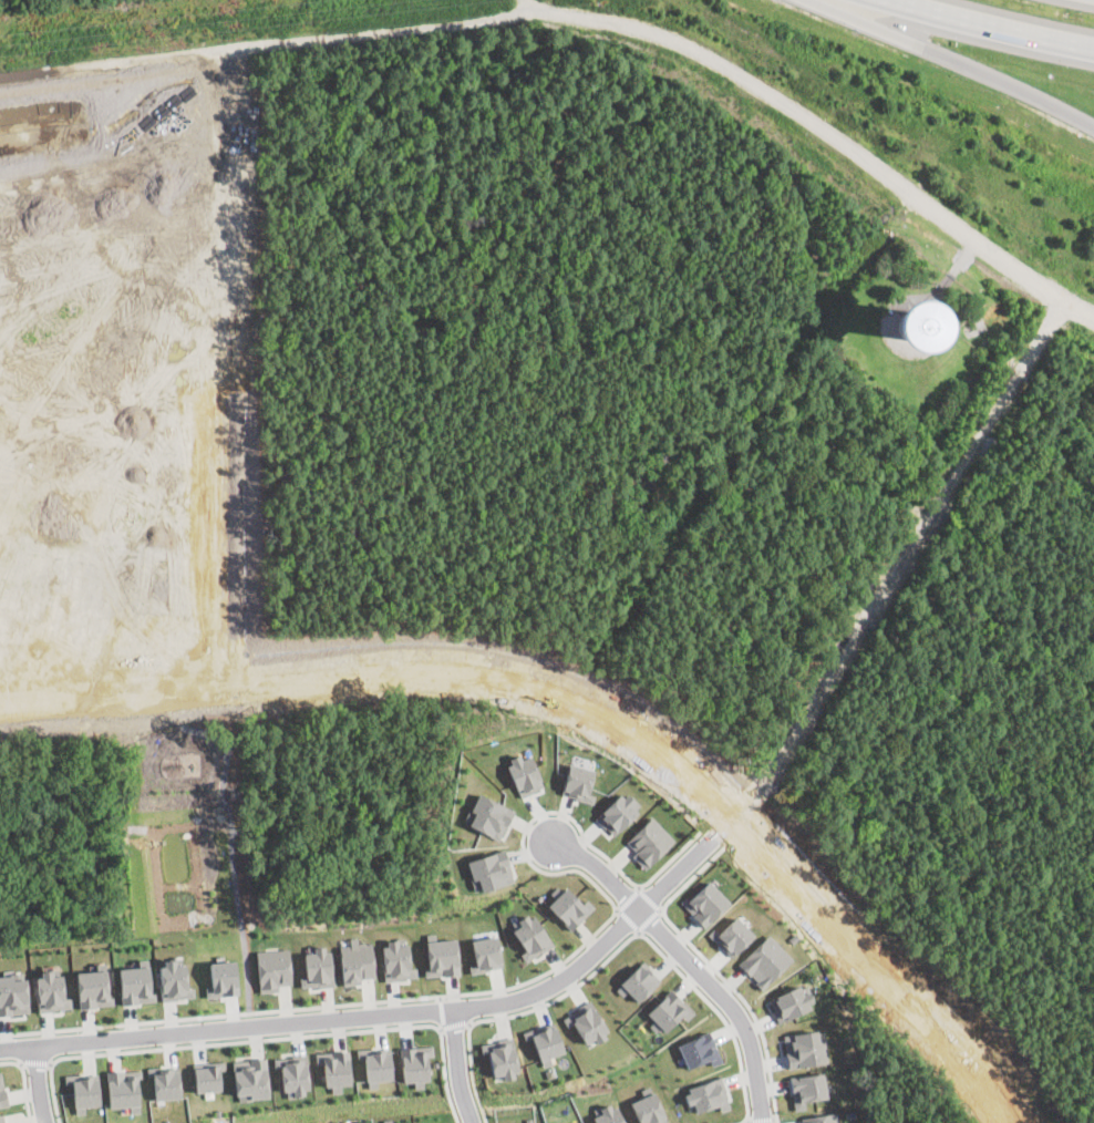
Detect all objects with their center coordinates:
road: (589, 14)
road: (995, 25)
road: (957, 59)
road: (7, 257)
road: (228, 313)
water tower: (911, 324)
road: (111, 433)
road: (897, 560)
road: (2, 594)
road: (385, 674)
building: (523, 772)
building: (578, 782)
building: (617, 813)
building: (487, 815)
road: (720, 827)
road: (229, 838)
building: (649, 841)
building: (488, 869)
road: (690, 876)
road: (628, 897)
road: (649, 897)
building: (705, 903)
building: (567, 906)
road: (648, 918)
road: (628, 919)
building: (529, 935)
building: (732, 935)
building: (484, 951)
building: (440, 955)
building: (355, 960)
building: (395, 960)
road: (688, 960)
building: (764, 960)
building: (317, 967)
road: (870, 967)
building: (272, 968)
building: (221, 978)
building: (173, 980)
building: (637, 981)
building: (134, 983)
road: (513, 986)
building: (92, 988)
building: (50, 991)
road: (561, 993)
building: (12, 995)
road: (745, 1001)
building: (789, 1001)
road: (441, 1010)
building: (668, 1010)
road: (716, 1010)
road: (386, 1014)
building: (586, 1022)
road: (454, 1023)
road: (441, 1029)
building: (544, 1039)
road: (214, 1041)
building: (803, 1048)
building: (698, 1049)
building: (500, 1057)
road: (33, 1061)
building: (413, 1063)
building: (374, 1064)
road: (456, 1067)
building: (333, 1068)
road: (469, 1072)
building: (292, 1073)
building: (206, 1075)
building: (250, 1078)
road: (444, 1078)
building: (165, 1081)
road: (23, 1082)
road: (33, 1083)
building: (806, 1088)
building: (123, 1089)
building: (83, 1090)
building: (2, 1093)
building: (706, 1094)
building: (648, 1106)
building: (606, 1113)
road: (762, 1117)
building: (820, 1117)
building: (1, 1119)
road: (741, 1121)
road: (747, 1121)

